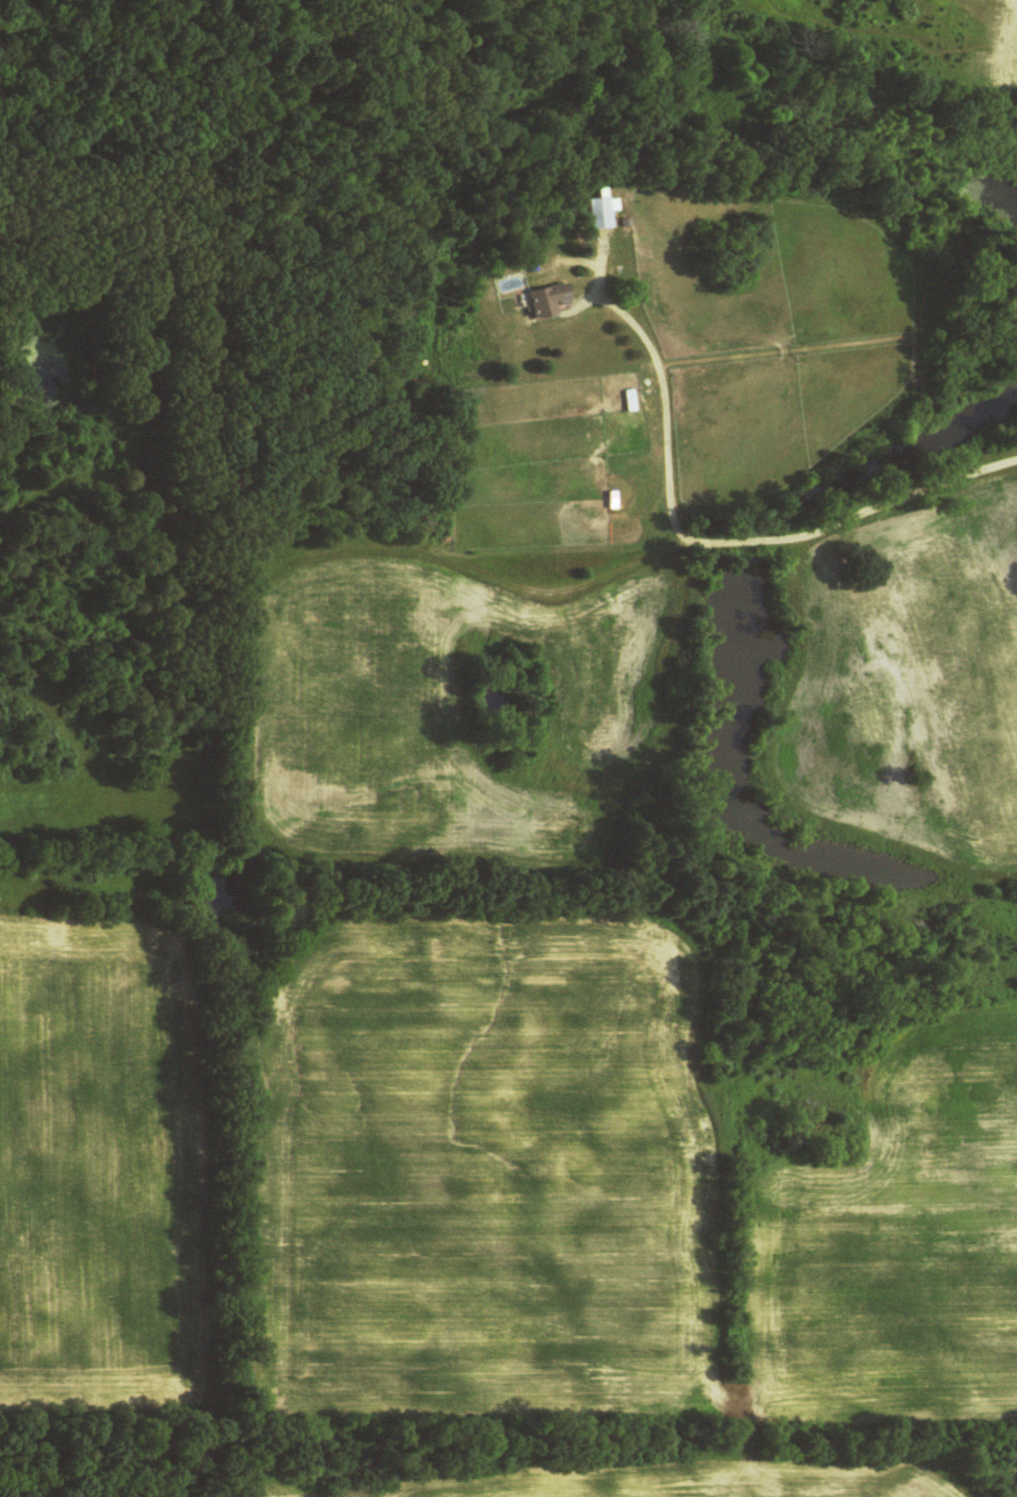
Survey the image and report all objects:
building: (603, 211)
building: (546, 301)
road: (696, 540)

